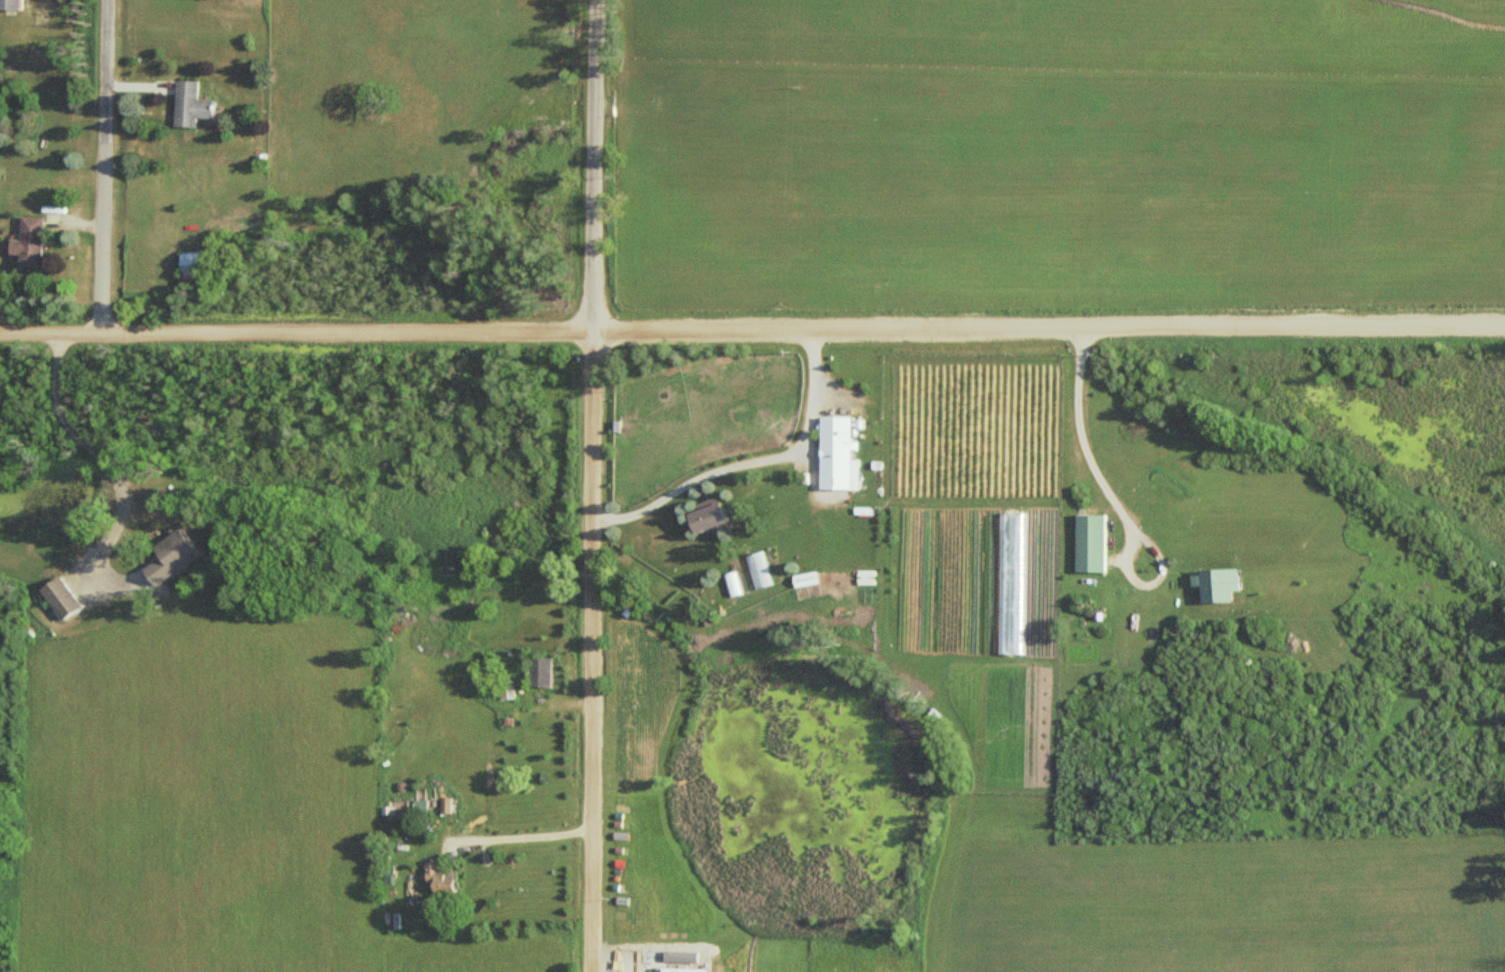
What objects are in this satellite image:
building: (10, 4)
building: (187, 103)
road: (106, 166)
road: (596, 166)
building: (25, 242)
building: (189, 263)
road: (752, 330)
building: (834, 450)
building: (707, 517)
building: (1089, 543)
building: (173, 556)
building: (1216, 584)
building: (59, 597)
road: (596, 652)
building: (540, 672)
building: (506, 690)
building: (439, 877)
building: (682, 969)

